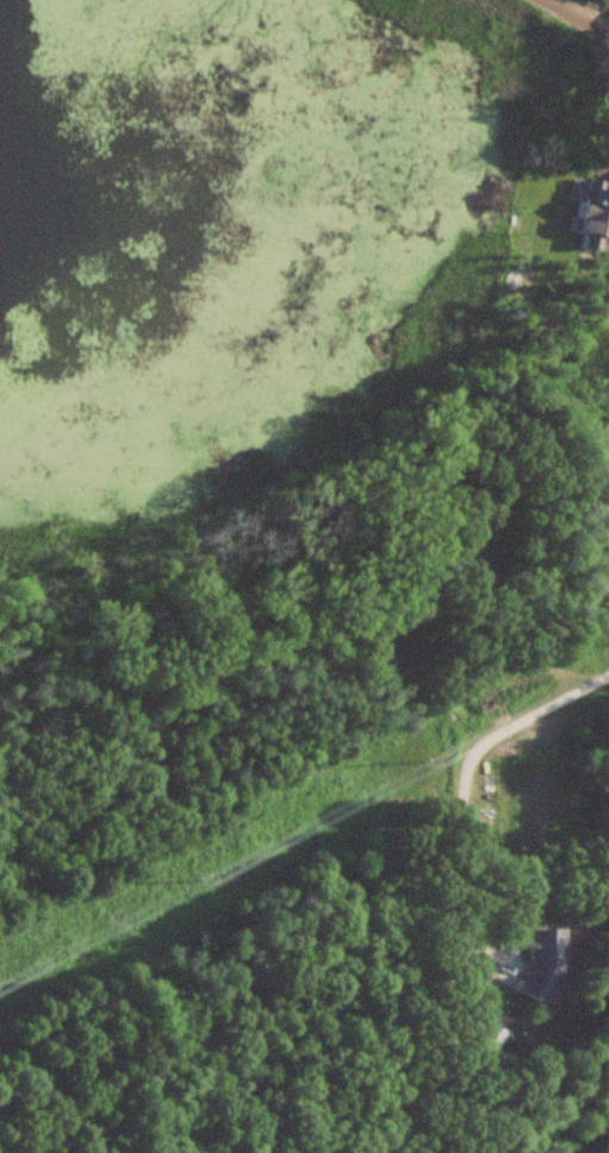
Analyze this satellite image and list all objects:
road: (579, 16)
building: (592, 210)
road: (462, 771)
building: (539, 964)
building: (489, 1036)

